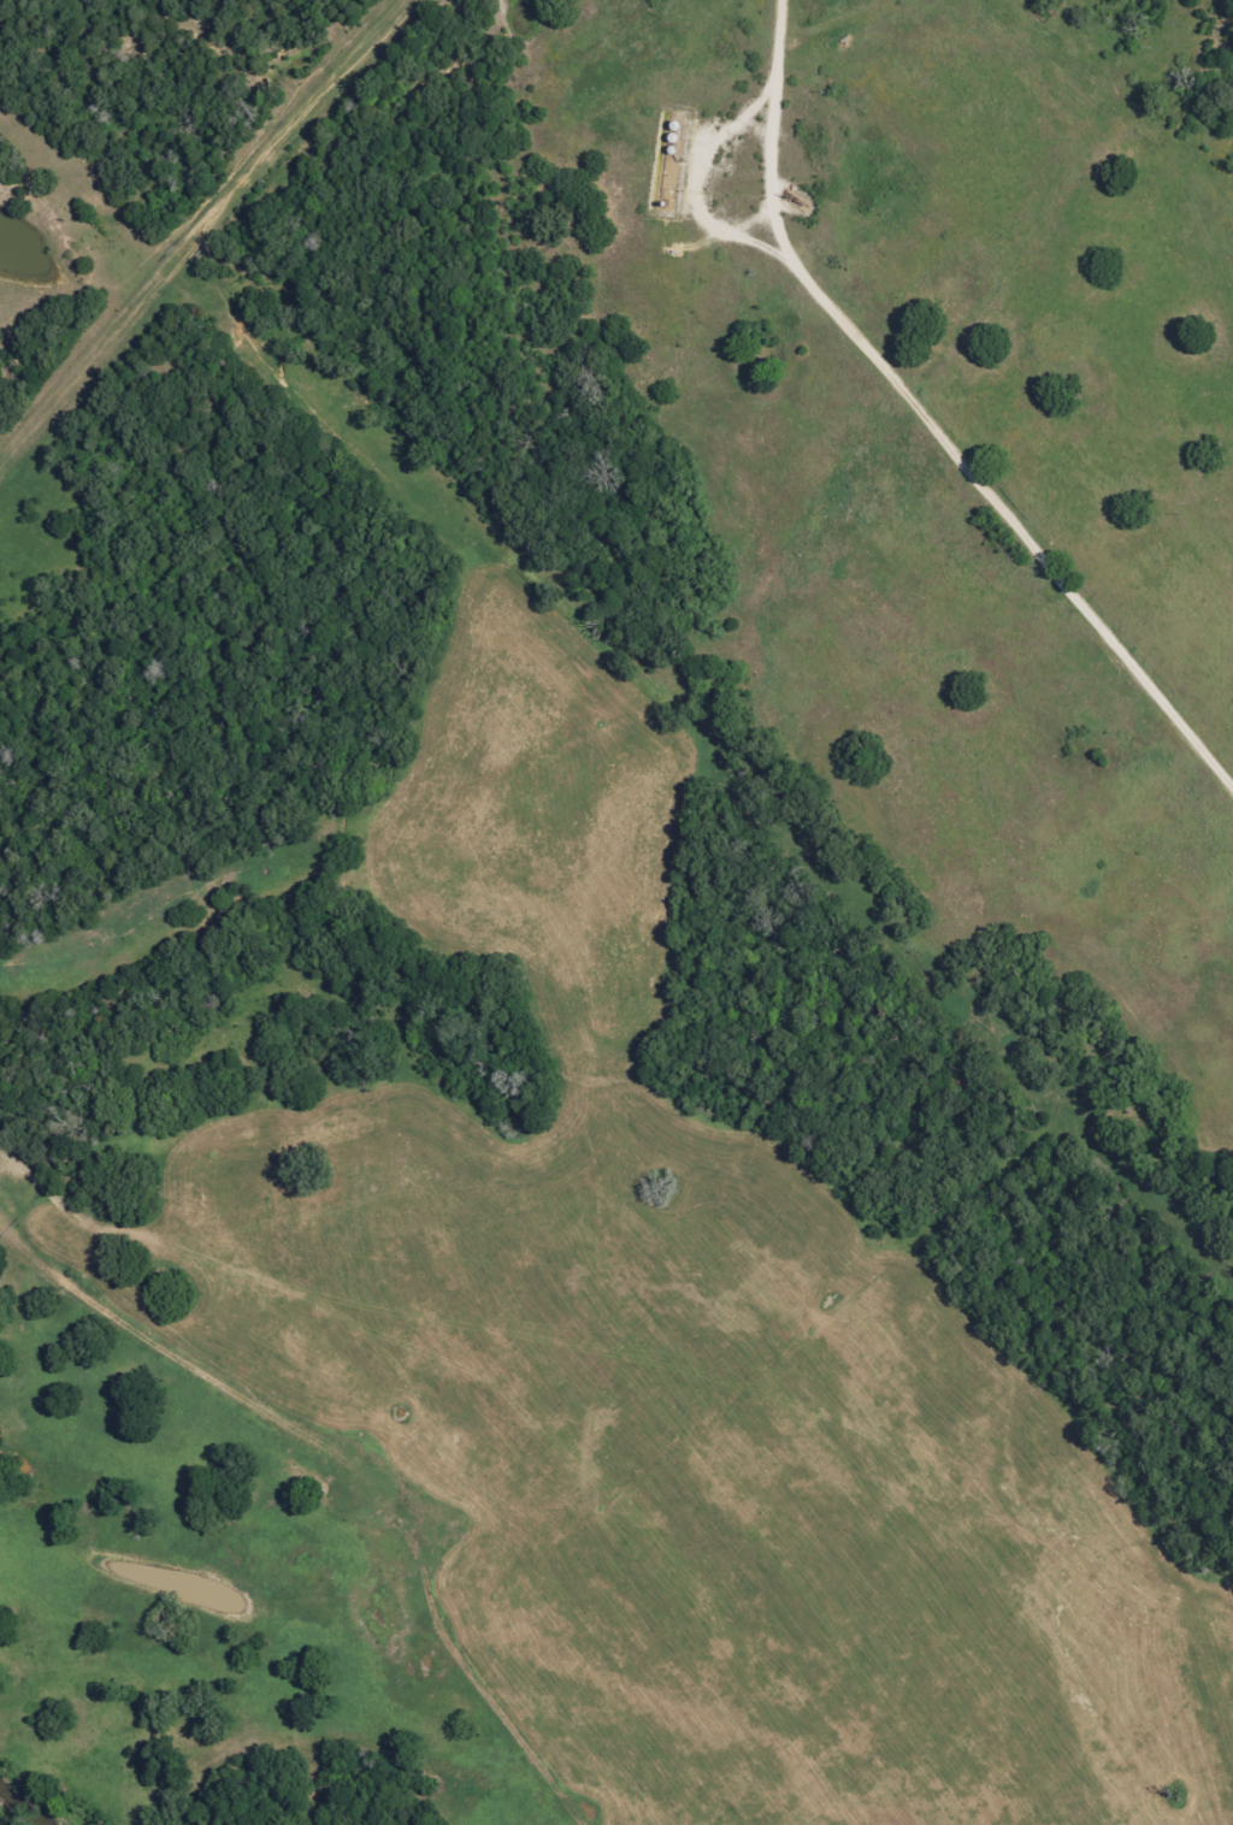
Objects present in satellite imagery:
petroleum well: (795, 195)

